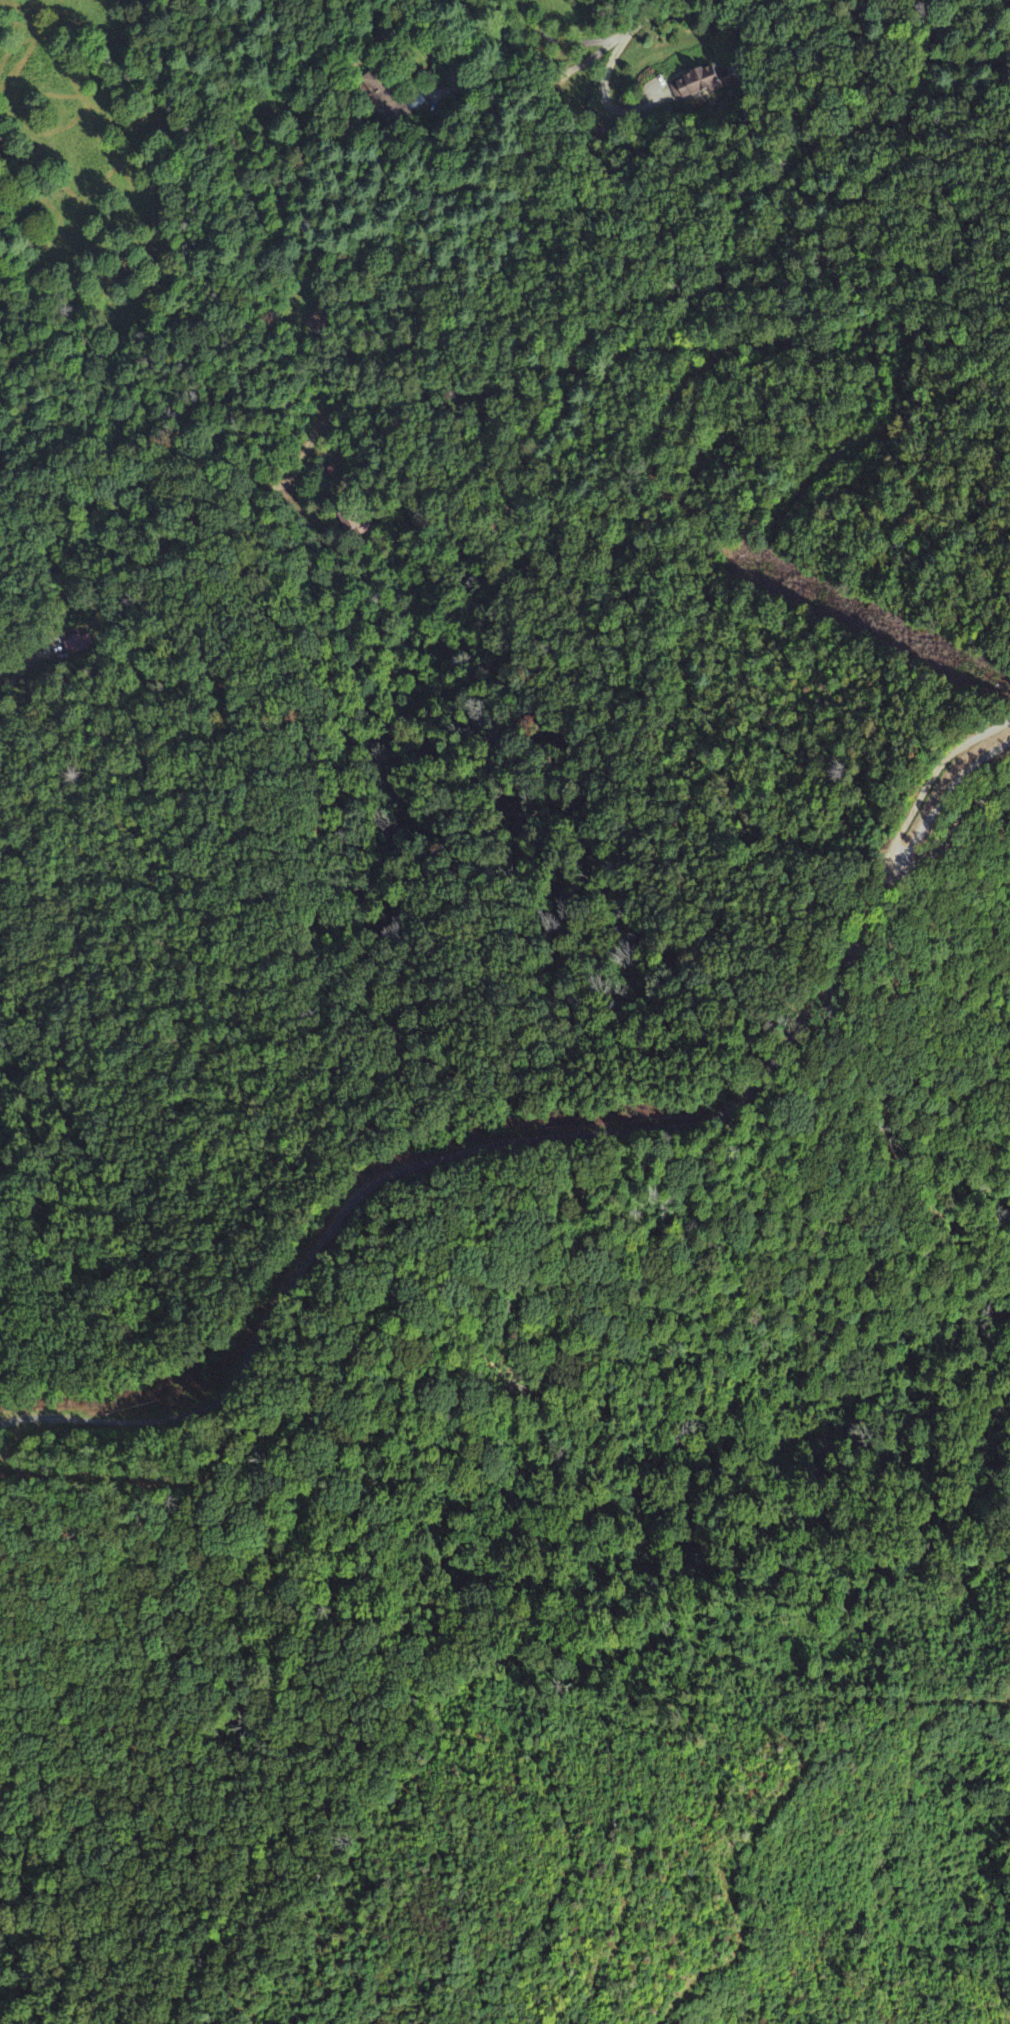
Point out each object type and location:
road: (622, 33)
road: (396, 261)
road: (678, 290)
road: (109, 485)
road: (26, 666)
road: (522, 1139)

